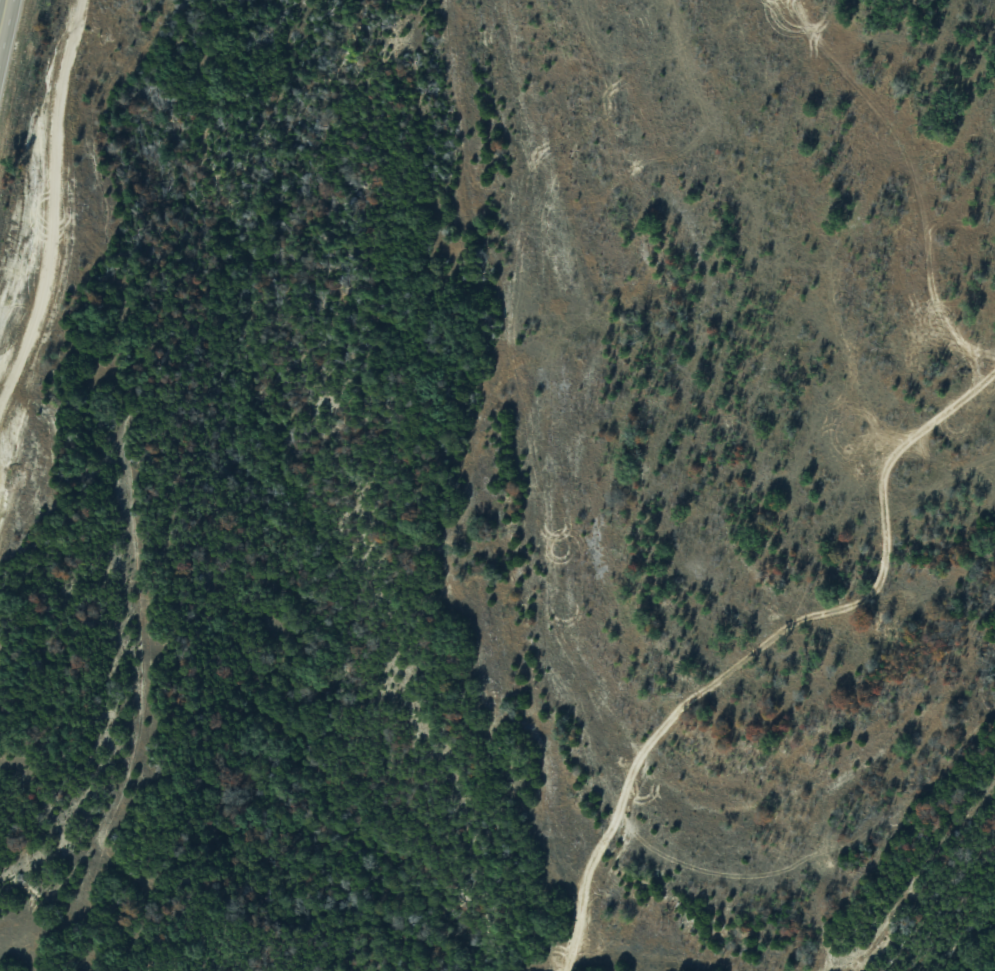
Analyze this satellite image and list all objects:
road: (2, 13)
road: (50, 194)

